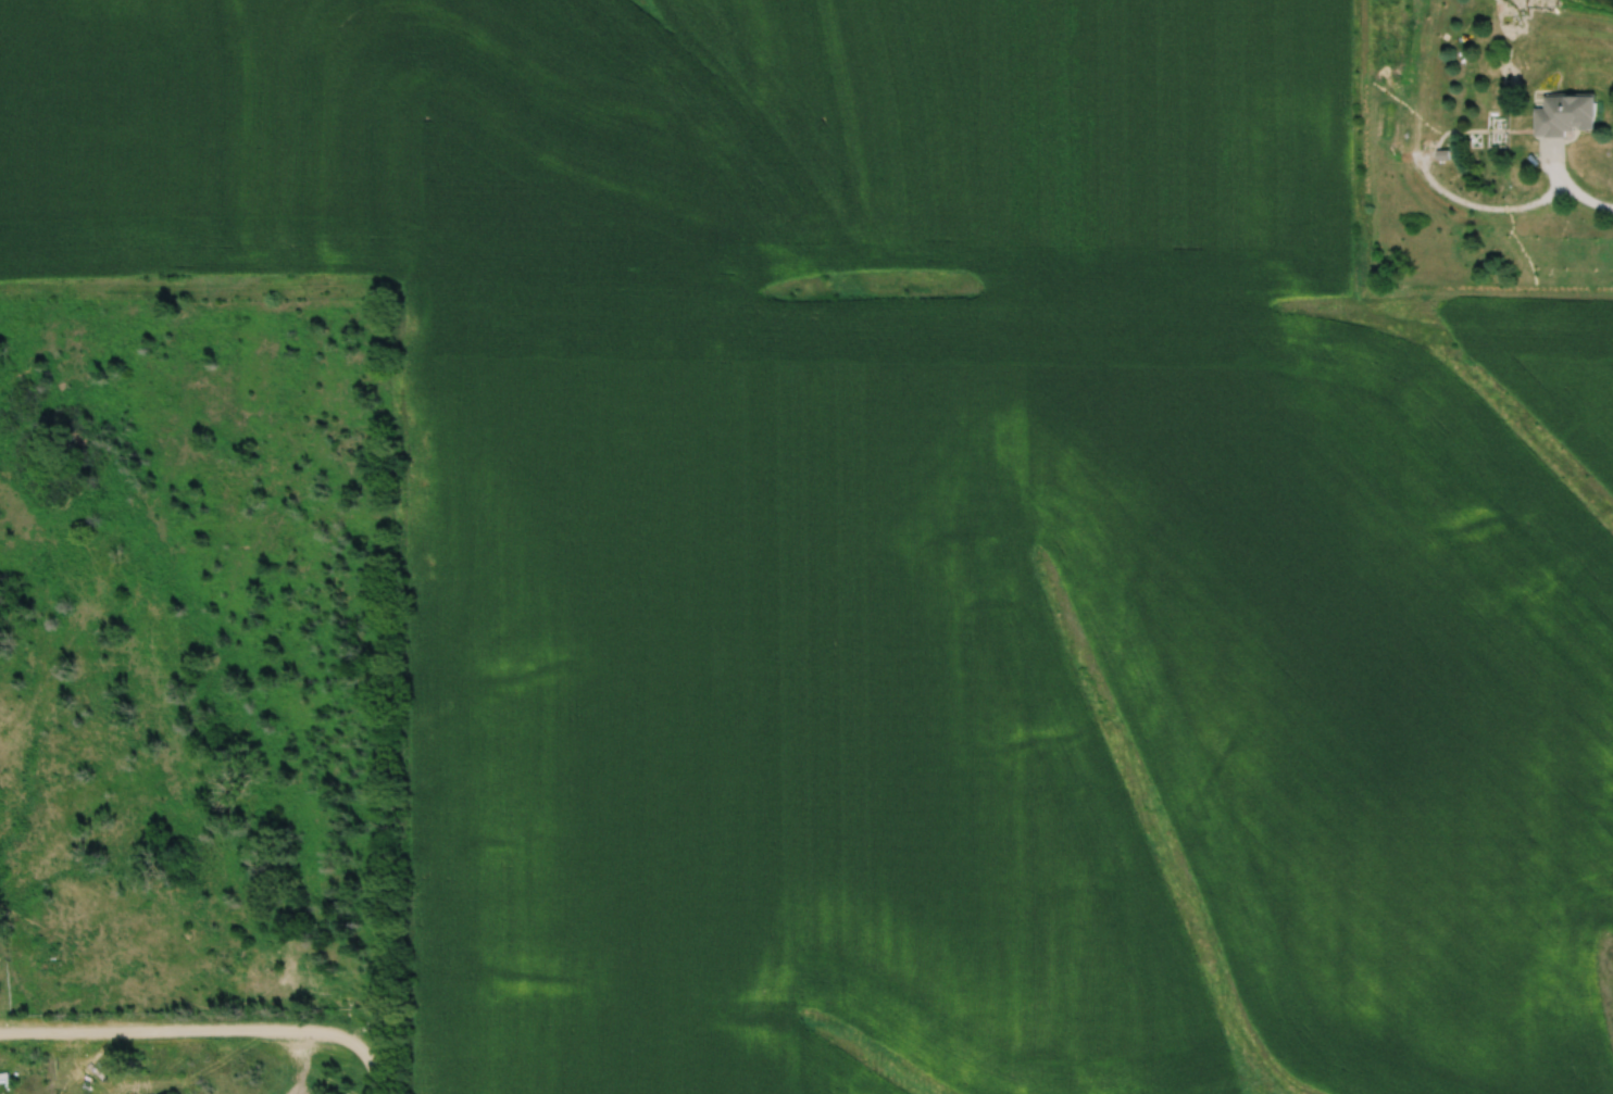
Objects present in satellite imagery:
building: (1564, 114)
road: (1570, 187)
road: (207, 1028)

